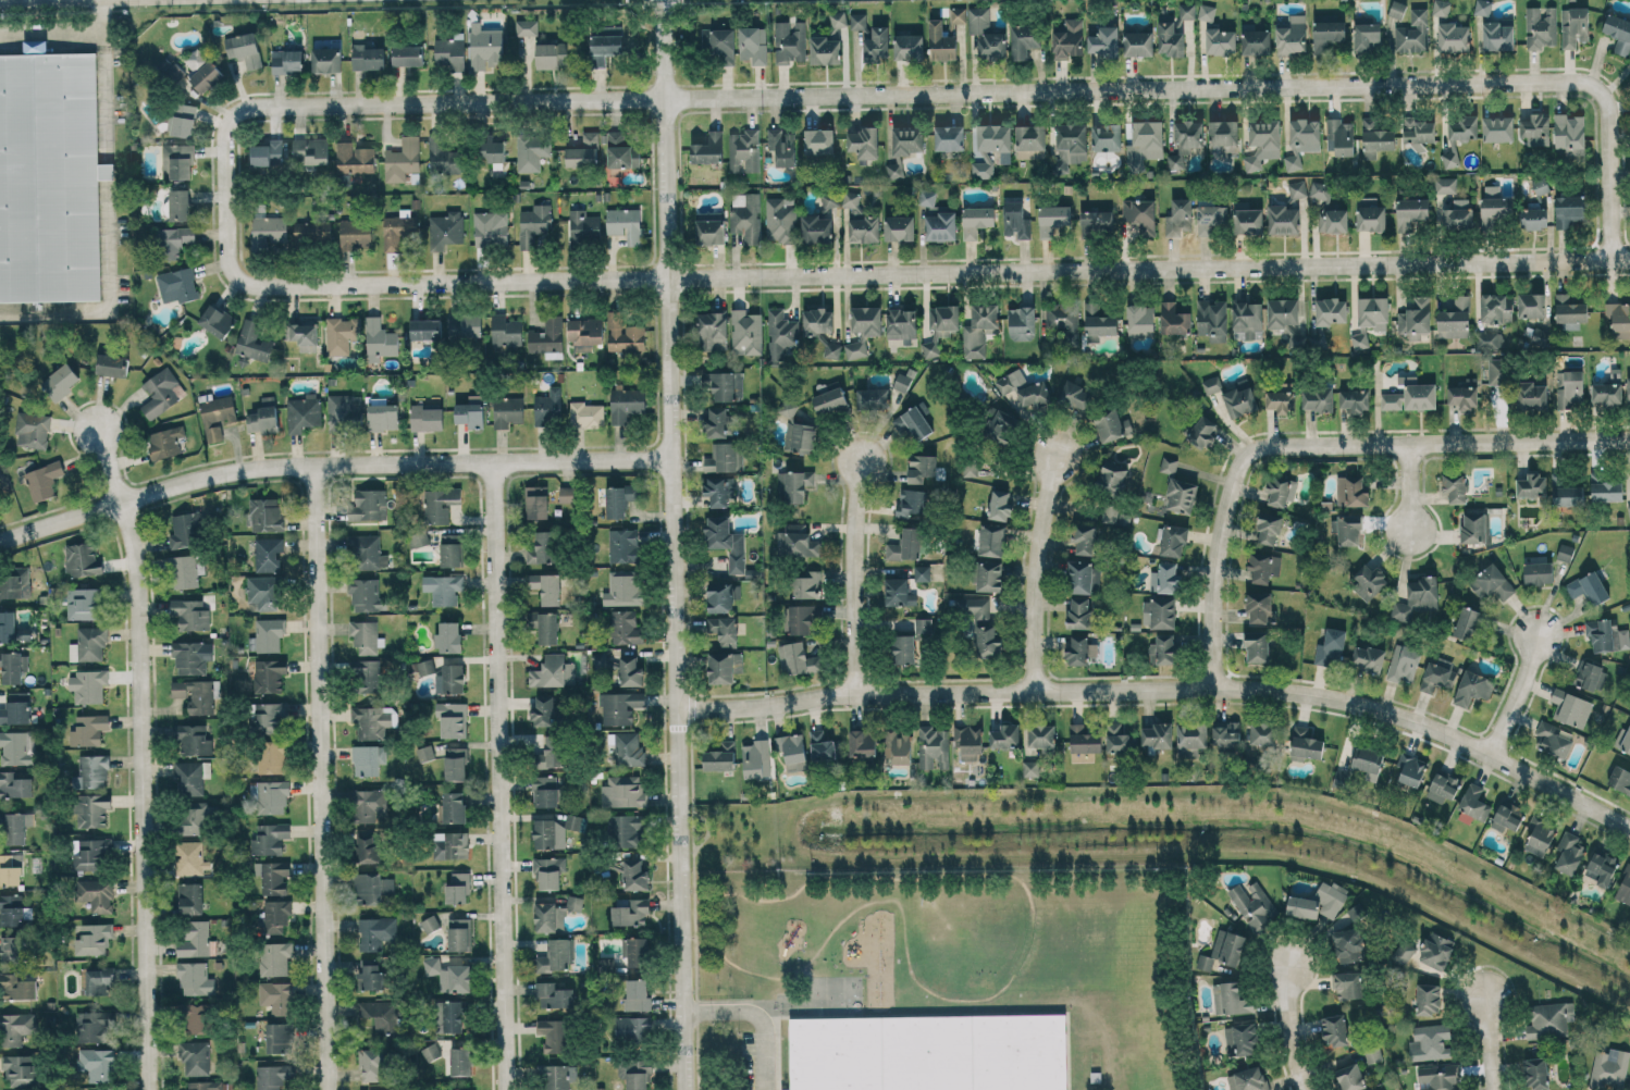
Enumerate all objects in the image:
building: (1441, 7)
building: (1483, 7)
building: (1397, 9)
building: (1186, 10)
building: (1207, 12)
building: (958, 15)
building: (838, 20)
building: (857, 21)
building: (1541, 26)
building: (1573, 26)
building: (526, 27)
building: (1326, 32)
building: (1411, 33)
building: (1618, 33)
building: (986, 35)
building: (1292, 35)
building: (1497, 35)
building: (1169, 36)
building: (1368, 36)
road: (70, 37)
building: (1454, 37)
building: (1024, 39)
building: (1069, 39)
building: (1255, 39)
building: (790, 41)
building: (1103, 41)
building: (1221, 41)
building: (605, 42)
building: (941, 42)
building: (1139, 44)
building: (719, 45)
building: (753, 45)
building: (877, 45)
building: (35, 46)
building: (484, 46)
building: (909, 47)
building: (244, 49)
building: (825, 50)
building: (450, 51)
building: (551, 54)
building: (407, 55)
building: (368, 58)
building: (326, 59)
building: (286, 61)
road: (1009, 88)
building: (183, 120)
building: (1464, 127)
building: (1497, 128)
building: (1535, 129)
building: (1305, 131)
building: (1418, 132)
building: (1569, 135)
building: (1341, 136)
building: (949, 137)
building: (1107, 137)
building: (1223, 138)
building: (1374, 138)
building: (818, 140)
building: (1185, 140)
building: (864, 141)
building: (907, 141)
building: (1030, 141)
building: (1072, 143)
building: (1263, 143)
building: (1145, 144)
building: (782, 146)
building: (989, 147)
building: (491, 149)
building: (621, 150)
building: (708, 150)
building: (310, 151)
building: (532, 151)
building: (583, 151)
building: (744, 151)
building: (267, 153)
building: (442, 156)
building: (1450, 156)
building: (354, 158)
building: (403, 160)
building: (177, 161)
building: (1293, 161)
building: (894, 166)
building: (50, 178)
building: (1446, 185)
building: (1540, 185)
building: (1297, 189)
building: (927, 198)
building: (850, 199)
building: (180, 205)
building: (830, 206)
building: (1494, 206)
building: (1328, 209)
building: (1568, 210)
building: (1410, 212)
building: (1370, 214)
building: (1458, 214)
building: (1139, 215)
building: (1178, 216)
building: (748, 218)
building: (1210, 218)
building: (1533, 218)
building: (1016, 219)
building: (1052, 219)
building: (1247, 219)
building: (780, 220)
building: (976, 220)
building: (1283, 220)
building: (940, 223)
building: (1096, 223)
building: (533, 224)
building: (625, 224)
building: (583, 227)
building: (397, 228)
building: (491, 228)
building: (864, 228)
building: (899, 228)
building: (445, 230)
building: (816, 230)
building: (268, 232)
building: (711, 232)
building: (311, 233)
building: (355, 234)
building: (174, 240)
road: (843, 274)
building: (177, 284)
building: (1531, 305)
building: (1496, 308)
building: (1331, 311)
building: (1373, 312)
building: (1569, 312)
building: (1416, 318)
building: (1619, 318)
building: (1140, 319)
building: (1174, 319)
building: (1247, 319)
building: (1455, 319)
building: (1063, 320)
building: (1099, 320)
building: (1212, 320)
building: (1286, 320)
building: (217, 321)
building: (818, 321)
building: (1021, 323)
building: (901, 324)
building: (465, 325)
building: (940, 326)
building: (425, 330)
building: (863, 330)
building: (979, 330)
building: (713, 331)
building: (505, 332)
building: (745, 332)
building: (584, 333)
building: (780, 333)
building: (342, 334)
building: (623, 334)
building: (302, 335)
building: (547, 335)
building: (380, 339)
building: (1360, 339)
building: (1490, 339)
building: (252, 342)
building: (831, 349)
building: (112, 364)
building: (1497, 371)
building: (60, 382)
building: (901, 382)
building: (725, 384)
building: (1211, 384)
building: (1628, 388)
building: (1025, 389)
building: (1571, 389)
building: (161, 392)
building: (1607, 392)
building: (1464, 394)
building: (1076, 395)
building: (1410, 395)
building: (1532, 395)
building: (1281, 398)
building: (1317, 398)
building: (873, 399)
building: (1355, 399)
building: (829, 400)
building: (1239, 401)
building: (627, 404)
building: (548, 407)
building: (507, 410)
building: (344, 412)
building: (302, 413)
building: (217, 414)
building: (470, 414)
building: (586, 414)
building: (263, 417)
building: (382, 417)
building: (427, 418)
building: (716, 422)
building: (914, 423)
building: (1112, 425)
building: (1001, 426)
building: (797, 429)
building: (32, 430)
building: (1203, 431)
building: (165, 442)
road: (1319, 445)
building: (725, 457)
building: (1169, 465)
road: (330, 467)
building: (921, 468)
building: (1112, 476)
building: (42, 480)
building: (795, 485)
building: (1531, 485)
building: (1455, 487)
building: (1277, 488)
road: (1410, 488)
building: (718, 490)
building: (1606, 490)
building: (1351, 492)
building: (566, 494)
building: (1567, 494)
building: (1181, 495)
building: (601, 496)
building: (620, 499)
building: (536, 501)
building: (912, 503)
building: (440, 504)
building: (368, 505)
building: (999, 505)
building: (1110, 513)
building: (266, 515)
building: (1473, 527)
building: (1268, 528)
building: (185, 530)
building: (1349, 530)
building: (419, 537)
building: (1084, 537)
building: (992, 540)
building: (1173, 540)
building: (726, 541)
building: (801, 541)
building: (623, 545)
road: (672, 545)
building: (905, 545)
building: (543, 548)
building: (450, 550)
building: (1565, 552)
building: (368, 553)
building: (268, 554)
building: (82, 559)
building: (1263, 567)
building: (187, 570)
road: (1036, 571)
building: (922, 572)
building: (1538, 573)
road: (854, 574)
building: (989, 575)
building: (1079, 577)
building: (1165, 578)
building: (1369, 581)
building: (13, 584)
building: (807, 584)
building: (1492, 584)
building: (546, 587)
building: (1588, 587)
building: (443, 589)
building: (622, 589)
building: (899, 591)
building: (263, 593)
building: (365, 594)
building: (723, 595)
building: (1417, 597)
building: (84, 603)
building: (973, 607)
building: (1258, 607)
building: (1159, 612)
building: (189, 614)
building: (1079, 614)
building: (801, 618)
building: (1466, 623)
building: (923, 624)
building: (8, 627)
building: (547, 628)
building: (625, 628)
building: (724, 629)
building: (268, 634)
building: (1607, 635)
building: (366, 636)
building: (448, 637)
building: (88, 644)
building: (1257, 646)
building: (1330, 646)
building: (902, 648)
building: (1081, 648)
building: (1163, 649)
building: (192, 657)
building: (1367, 658)
building: (606, 659)
building: (799, 659)
building: (1404, 662)
building: (13, 666)
building: (421, 666)
building: (724, 667)
building: (631, 669)
building: (553, 671)
building: (270, 674)
building: (367, 676)
building: (1591, 676)
building: (1434, 677)
building: (450, 679)
building: (88, 685)
road: (1166, 686)
building: (1473, 688)
road: (1514, 693)
building: (195, 694)
building: (620, 707)
building: (1570, 707)
building: (16, 708)
building: (546, 711)
building: (271, 718)
building: (452, 719)
building: (373, 720)
building: (89, 729)
building: (1226, 733)
building: (1157, 734)
building: (1039, 735)
building: (1262, 735)
building: (1004, 736)
building: (1084, 739)
building: (1116, 739)
building: (1190, 739)
building: (1554, 739)
building: (193, 740)
building: (968, 741)
building: (1622, 741)
building: (1306, 744)
building: (862, 745)
building: (898, 745)
building: (822, 746)
building: (16, 747)
building: (933, 747)
building: (629, 750)
building: (548, 751)
building: (792, 751)
building: (425, 753)
building: (271, 756)
building: (720, 757)
road: (140, 758)
building: (756, 758)
building: (368, 759)
building: (1368, 759)
building: (455, 764)
building: (1030, 768)
building: (1411, 769)
building: (91, 770)
building: (190, 777)
road: (497, 777)
building: (1341, 778)
building: (1620, 778)
road: (319, 779)
building: (14, 784)
building: (1443, 786)
building: (544, 791)
building: (623, 791)
building: (272, 796)
building: (1474, 801)
building: (369, 804)
building: (452, 807)
building: (91, 809)
building: (1507, 817)
building: (195, 818)
building: (575, 822)
building: (15, 826)
building: (628, 829)
building: (544, 833)
building: (1540, 835)
building: (271, 838)
building: (450, 844)
building: (367, 847)
building: (94, 853)
building: (1569, 854)
building: (190, 858)
building: (1602, 867)
building: (10, 869)
building: (548, 871)
building: (634, 875)
building: (274, 877)
building: (372, 887)
building: (1623, 887)
building: (458, 888)
building: (96, 894)
building: (190, 897)
building: (1318, 903)
building: (1252, 904)
building: (13, 909)
building: (631, 913)
building: (555, 914)
building: (276, 915)
building: (427, 925)
building: (375, 932)
building: (458, 934)
building: (94, 939)
building: (196, 940)
building: (1348, 944)
building: (12, 949)
building: (1436, 950)
building: (1221, 951)
building: (638, 952)
building: (555, 956)
building: (275, 957)
building: (449, 975)
building: (372, 976)
building: (193, 978)
building: (98, 981)
building: (18, 984)
building: (1347, 984)
building: (554, 995)
building: (637, 995)
building: (276, 996)
building: (1231, 999)
building: (1428, 999)
building: (376, 1015)
building: (450, 1016)
road: (757, 1016)
building: (199, 1018)
building: (1549, 1019)
building: (96, 1027)
building: (15, 1028)
building: (632, 1029)
road: (1287, 1029)
building: (1334, 1030)
building: (554, 1036)
building: (280, 1038)
building: (1242, 1039)
building: (1431, 1042)
road: (1489, 1042)
building: (928, 1051)
building: (1371, 1056)
building: (195, 1057)
building: (460, 1061)
building: (98, 1064)
building: (371, 1064)
building: (1609, 1067)
building: (21, 1070)
building: (634, 1073)
building: (1535, 1073)
building: (273, 1076)
building: (558, 1076)
building: (1350, 1077)
building: (1438, 1077)
building: (1247, 1079)
building: (203, 1085)
building: (374, 1089)
building: (469, 1089)
building: (1374, 1089)

